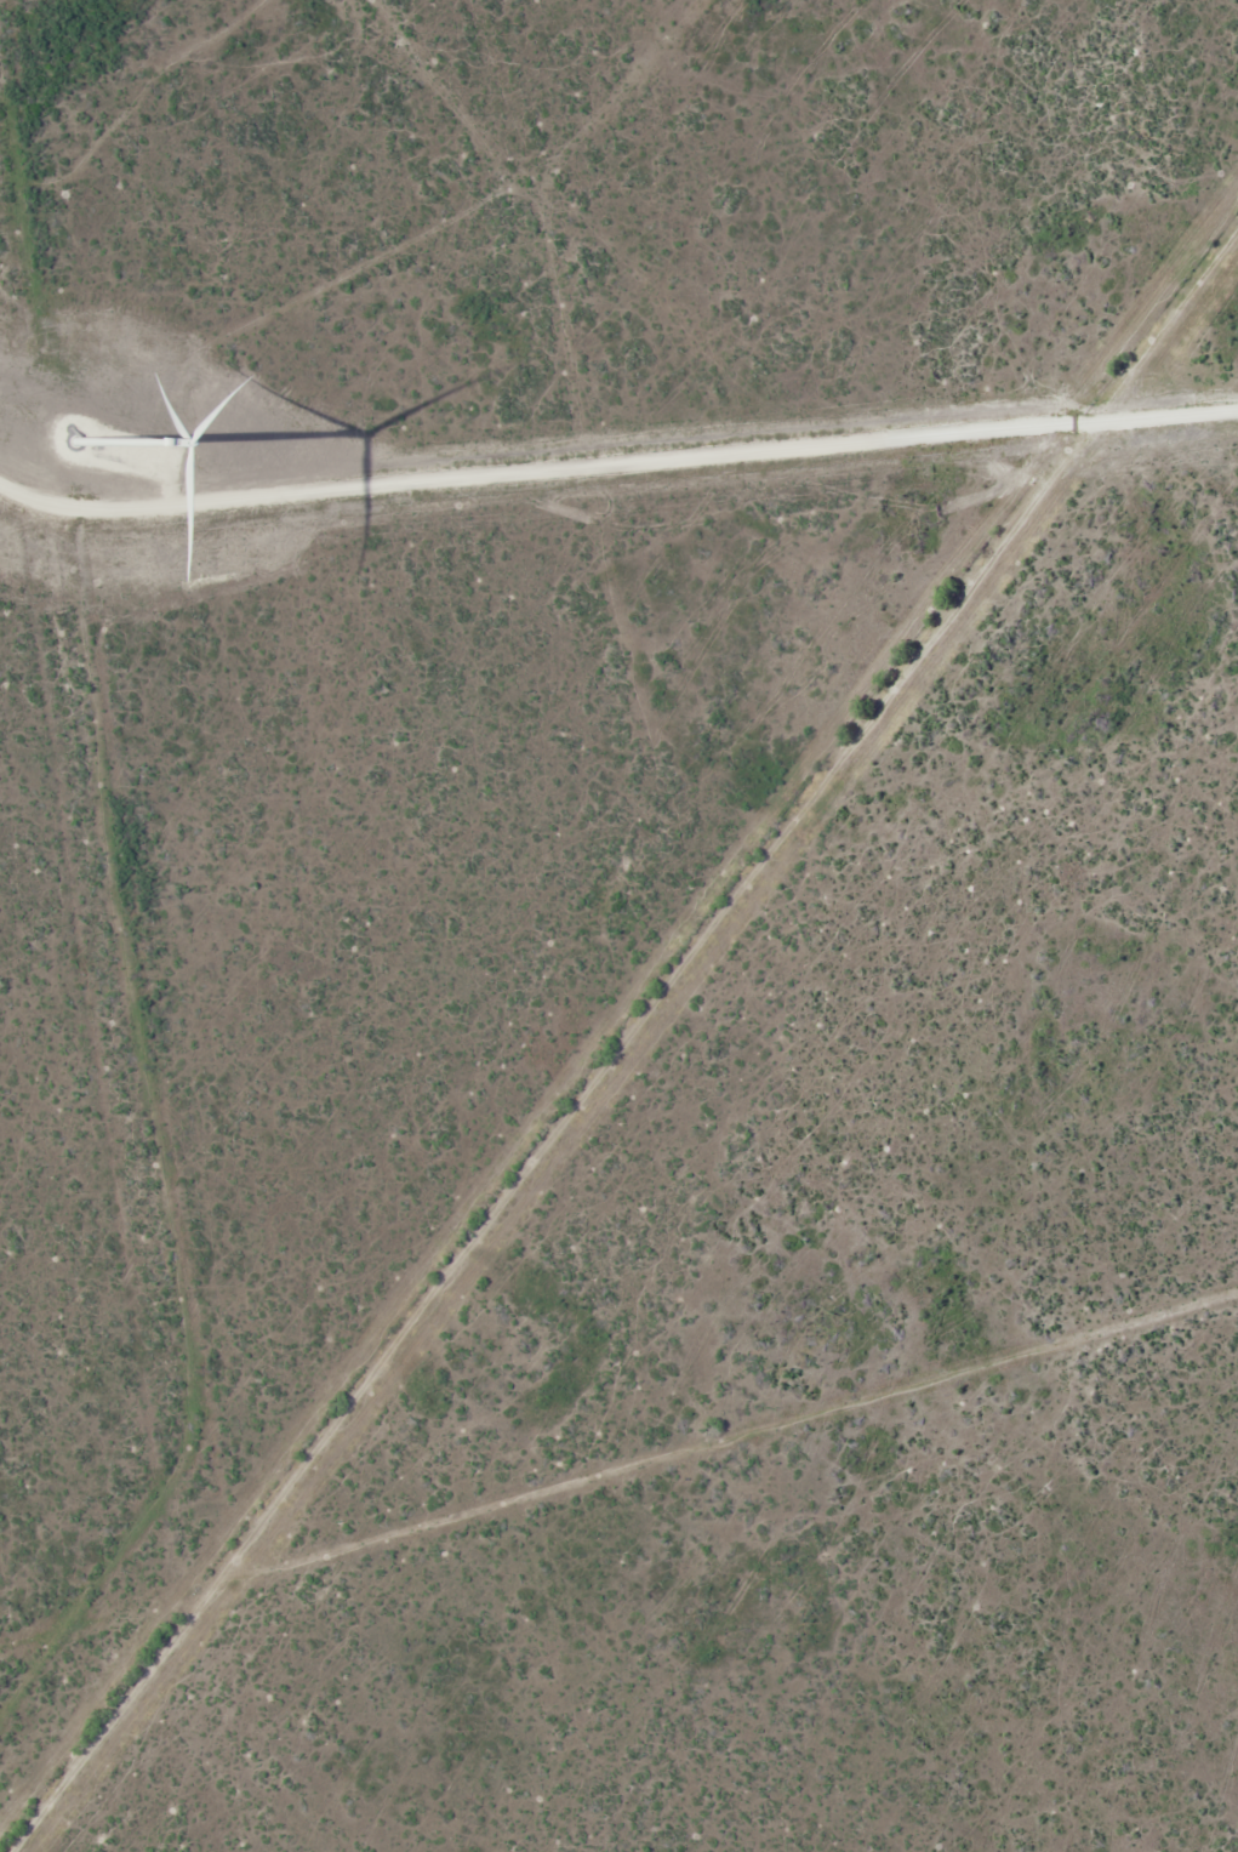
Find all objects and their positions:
wind turbine: (65, 431)

